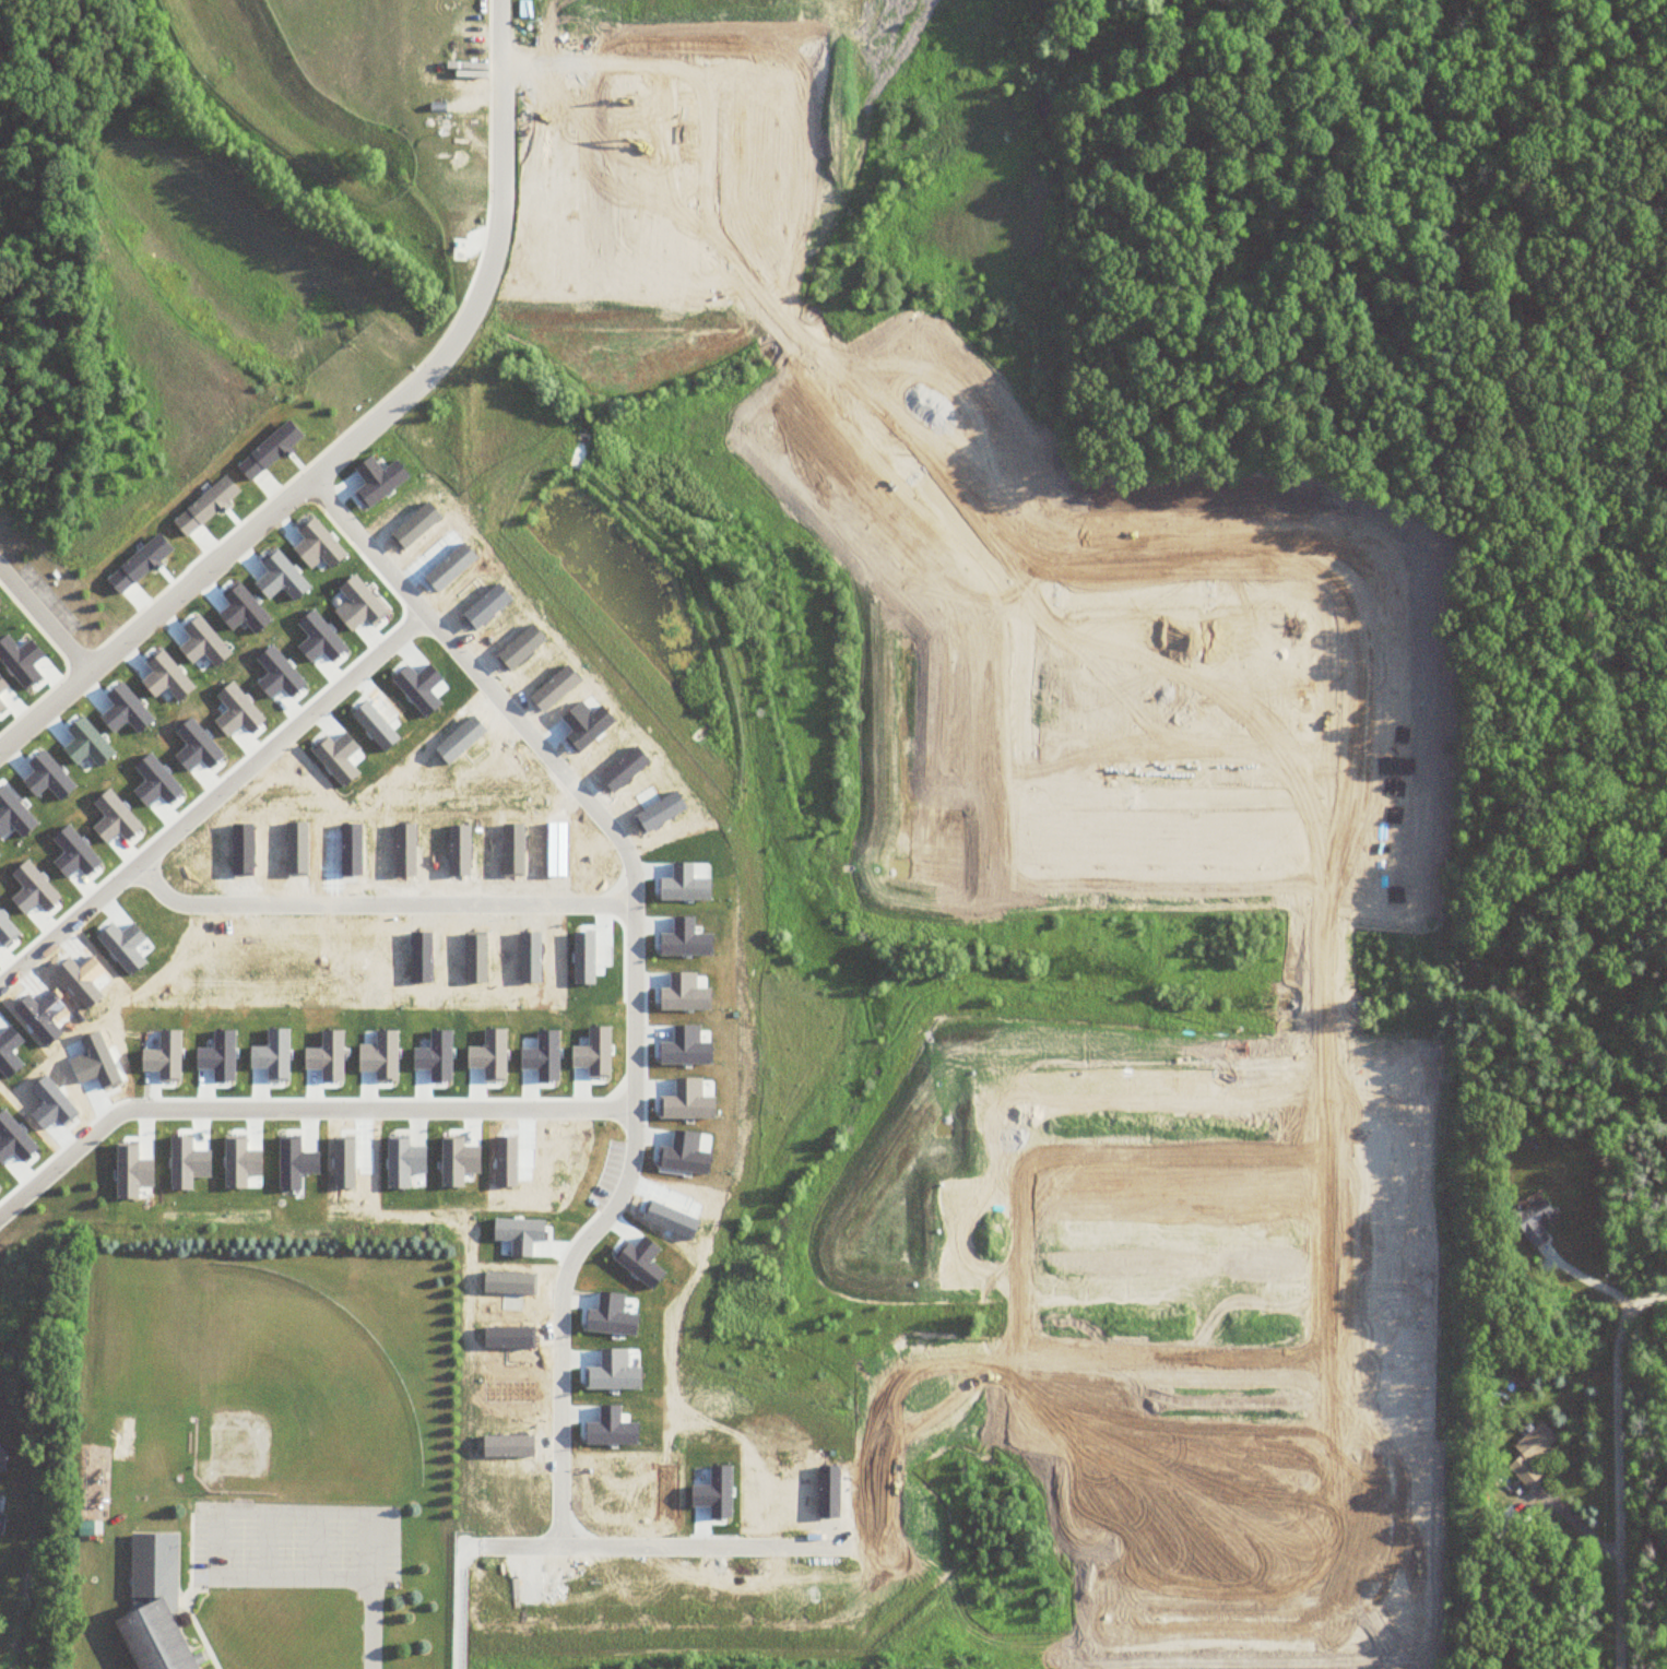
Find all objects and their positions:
road: (358, 429)
road: (364, 542)
road: (44, 622)
road: (374, 900)
road: (630, 910)
road: (296, 1105)
building: (1535, 1221)
park: (287, 1389)
building: (1530, 1452)
road: (1619, 1461)
road: (211, 1506)
building: (1502, 1520)
parking lot: (293, 1537)
road: (189, 1540)
road: (264, 1542)
road: (315, 1543)
road: (460, 1558)
building: (156, 1601)
road: (194, 1613)
road: (370, 1625)

